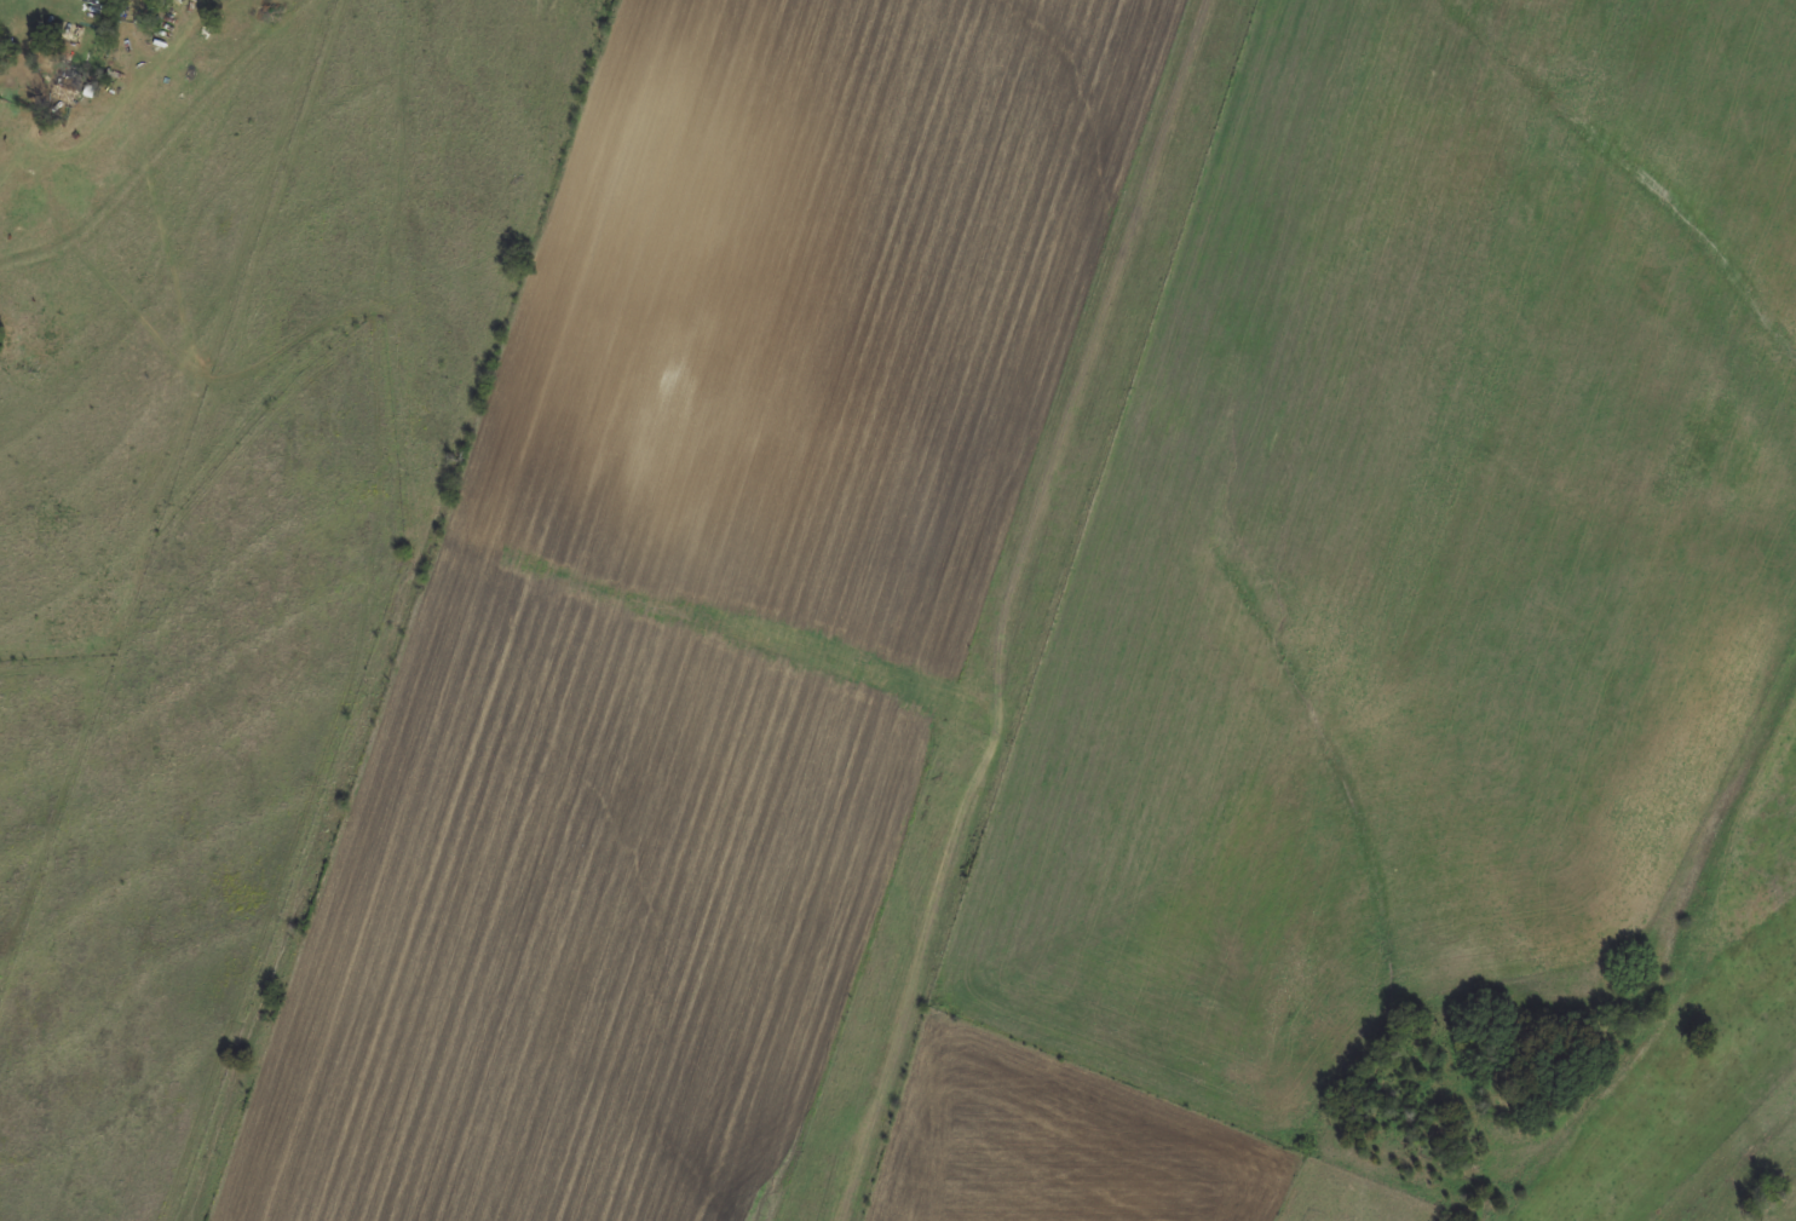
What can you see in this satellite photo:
building: (74, 68)
building: (68, 90)

